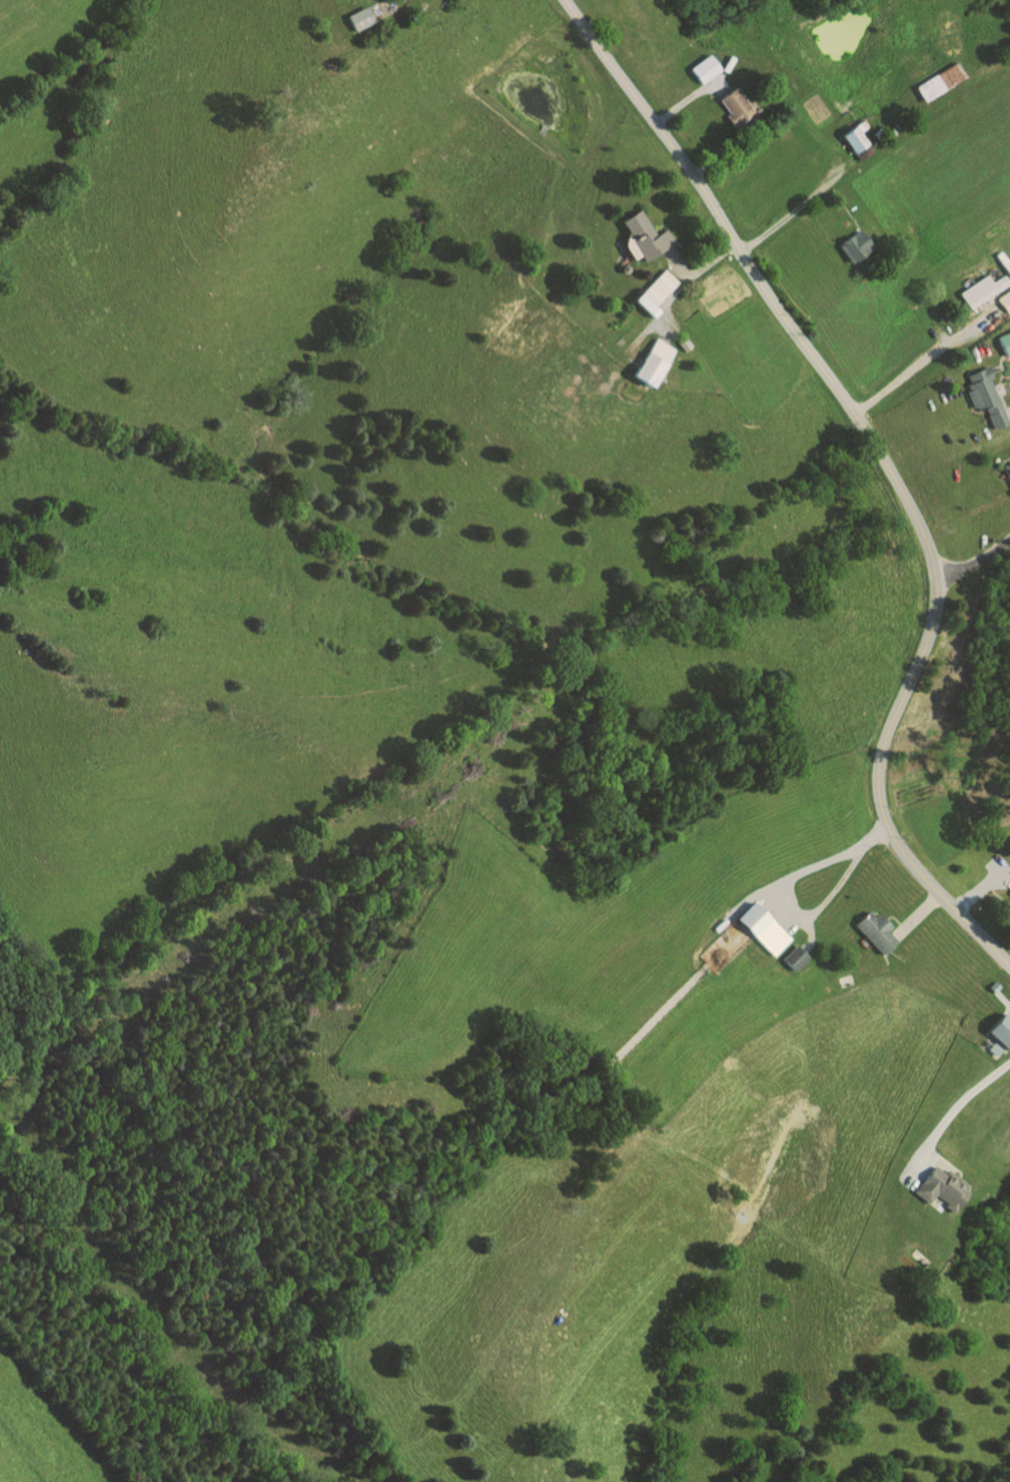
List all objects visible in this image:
building: (359, 16)
building: (703, 67)
building: (938, 80)
road: (717, 85)
road: (695, 92)
building: (732, 105)
building: (899, 124)
building: (893, 130)
building: (879, 132)
building: (857, 139)
road: (722, 149)
road: (794, 210)
building: (643, 235)
building: (853, 244)
road: (678, 262)
building: (873, 264)
building: (1007, 268)
road: (682, 284)
building: (980, 289)
building: (653, 291)
building: (1004, 299)
road: (645, 331)
building: (1005, 342)
road: (928, 358)
building: (650, 361)
building: (983, 396)
road: (1006, 414)
road: (1005, 460)
road: (889, 466)
building: (1007, 471)
road: (974, 561)
crop: (923, 808)
road: (836, 885)
road: (981, 885)
road: (916, 915)
road: (793, 923)
building: (759, 927)
building: (873, 929)
building: (792, 956)
building: (995, 985)
building: (1001, 1029)
road: (950, 1113)
building: (942, 1187)

